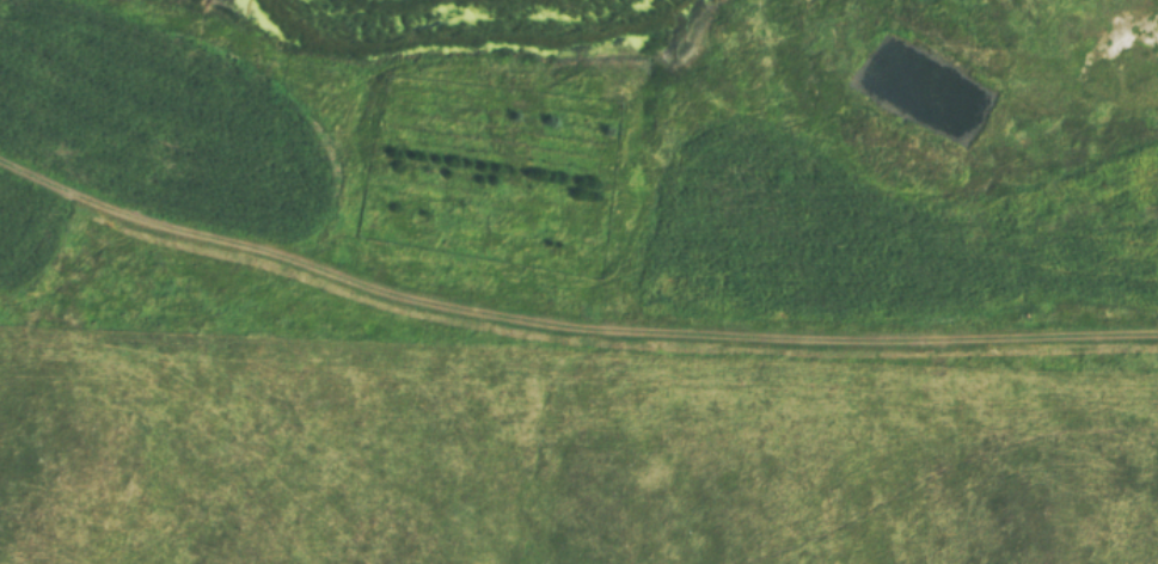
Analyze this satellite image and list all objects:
road: (16, 165)

